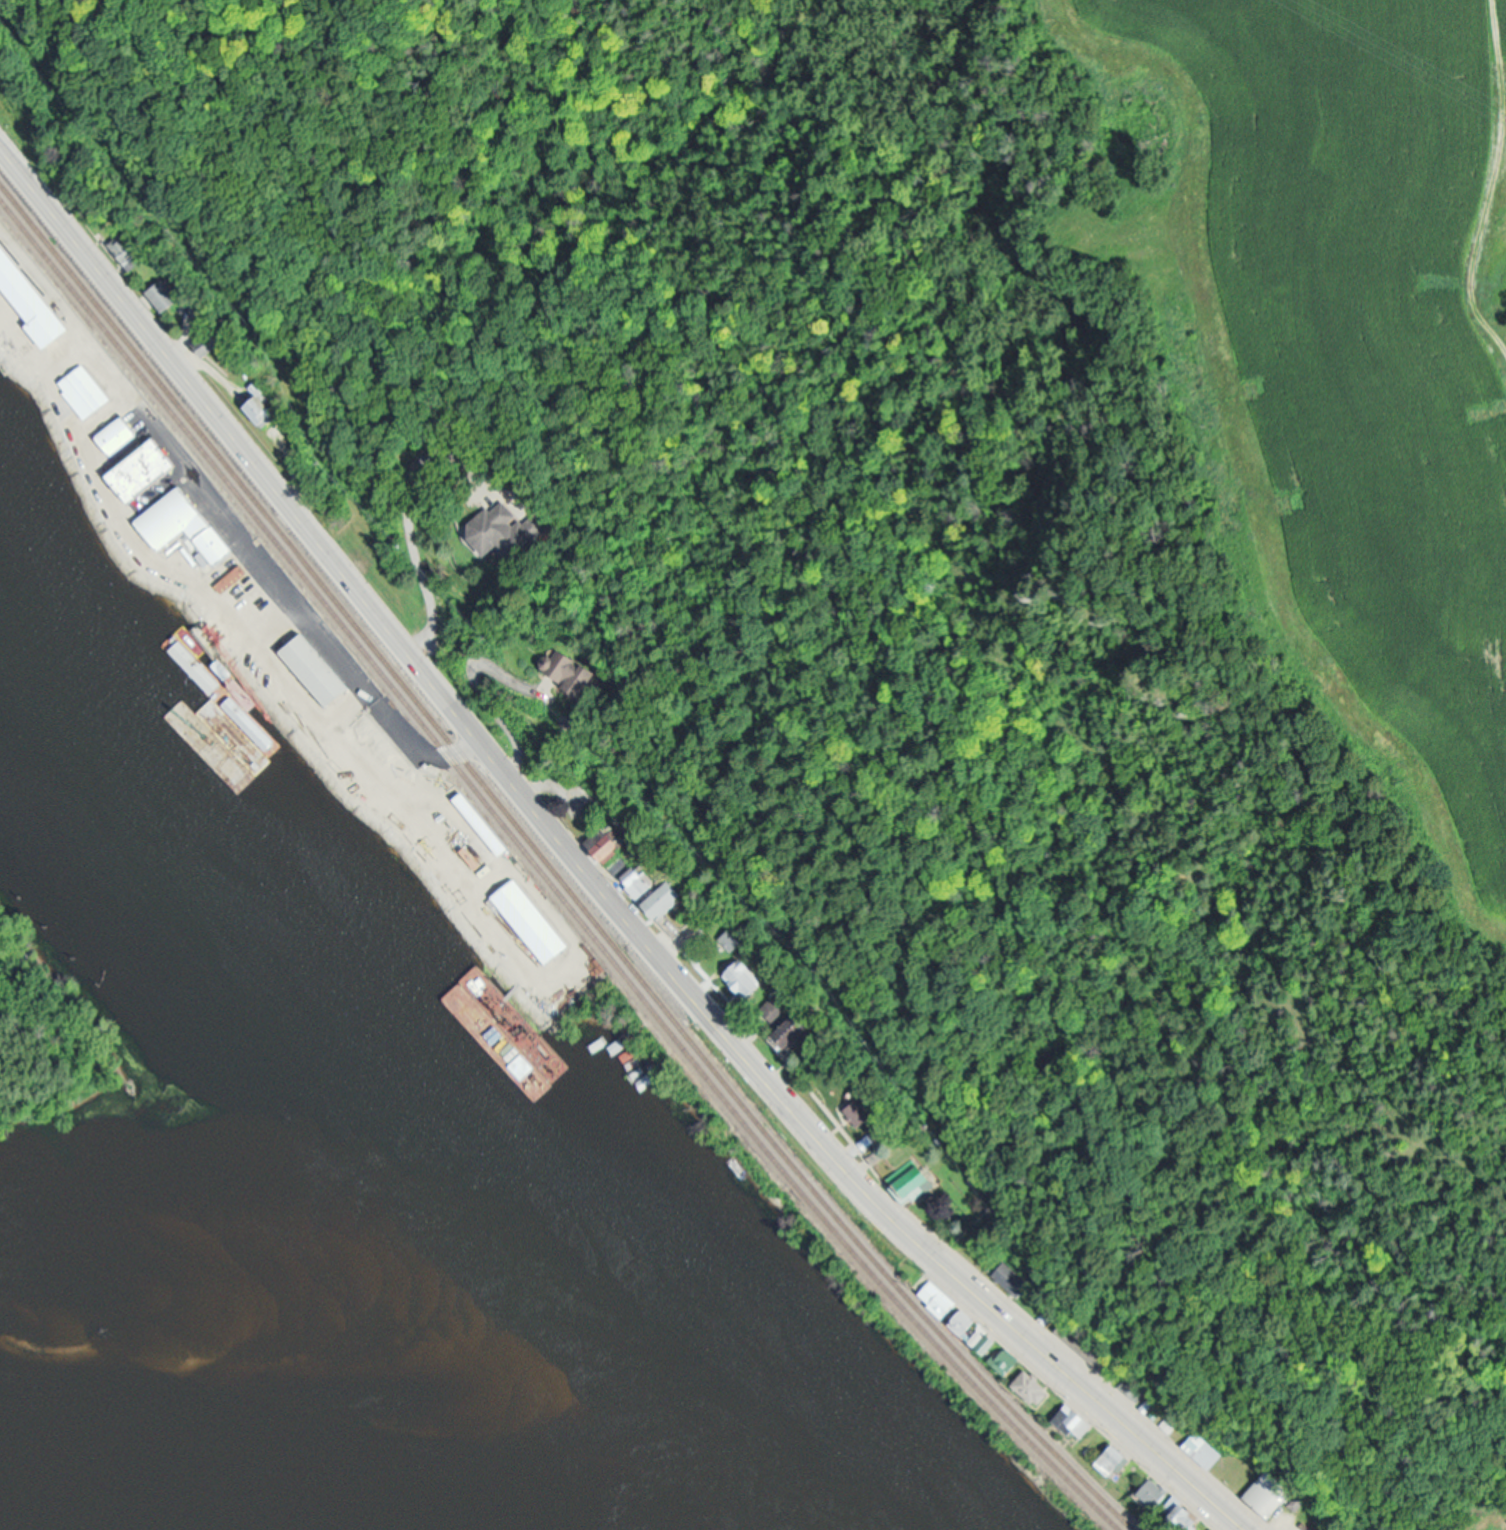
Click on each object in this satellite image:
road: (1495, 179)
road: (300, 608)
building: (313, 663)
building: (604, 842)
railway: (553, 868)
road: (581, 870)
railway: (546, 875)
building: (635, 881)
building: (663, 897)
building: (529, 915)
building: (70, 919)
building: (729, 939)
building: (744, 979)
building: (776, 1004)
building: (797, 1025)
building: (859, 1112)
building: (916, 1179)
building: (1008, 1280)
building: (962, 1324)
building: (989, 1342)
building: (1087, 1349)
building: (1007, 1362)
building: (1131, 1386)
building: (1033, 1387)
building: (1074, 1419)
building: (1201, 1449)
building: (1113, 1458)
building: (1269, 1491)
building: (1153, 1494)
building: (1219, 1528)

